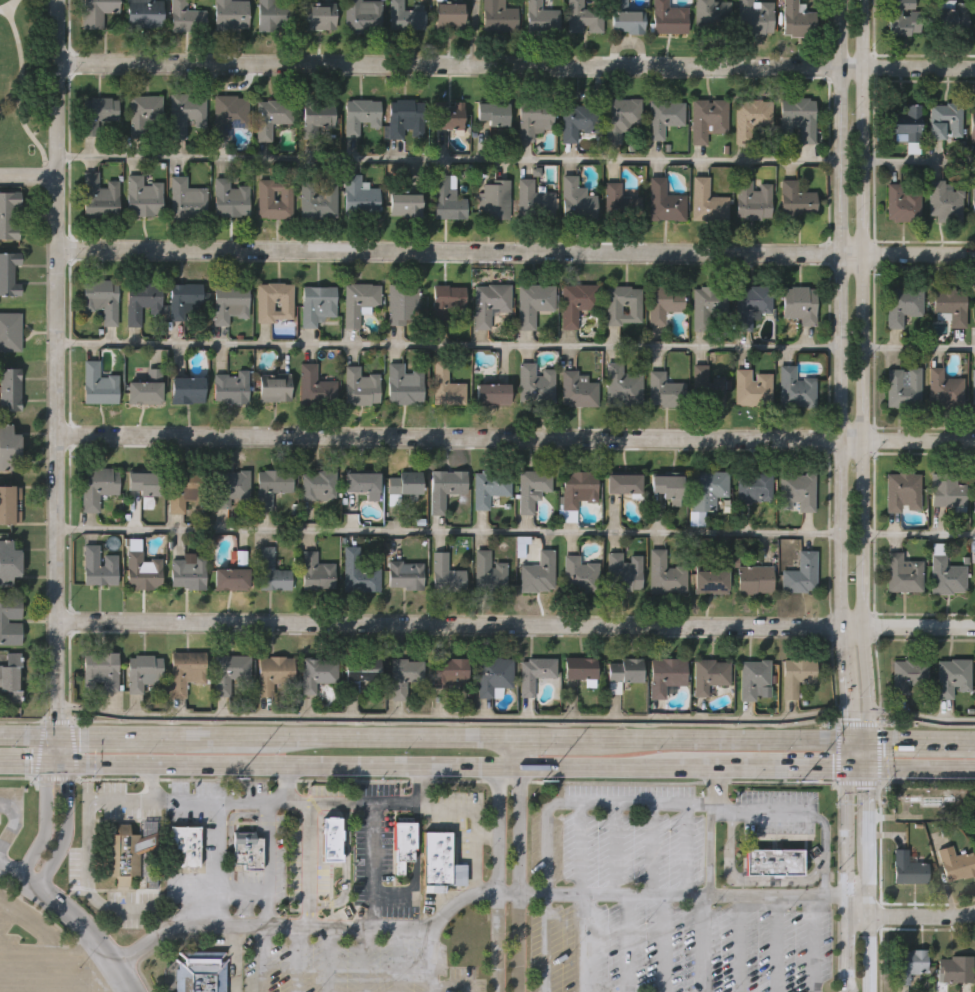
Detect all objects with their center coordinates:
road: (6, 4)
building: (96, 12)
building: (143, 13)
building: (230, 14)
building: (450, 14)
building: (274, 15)
building: (405, 15)
building: (362, 16)
building: (712, 16)
building: (950, 16)
building: (185, 17)
building: (318, 17)
building: (498, 17)
building: (584, 17)
building: (669, 17)
building: (754, 17)
building: (901, 17)
building: (626, 18)
building: (541, 19)
building: (797, 19)
road: (516, 64)
park: (24, 86)
road: (22, 92)
building: (98, 113)
building: (185, 113)
building: (229, 114)
building: (145, 115)
building: (449, 115)
building: (491, 116)
building: (271, 117)
building: (362, 117)
building: (665, 117)
building: (798, 117)
building: (406, 118)
building: (622, 118)
building: (317, 119)
building: (534, 119)
building: (708, 119)
building: (753, 119)
building: (578, 121)
building: (944, 121)
building: (904, 122)
building: (973, 126)
road: (449, 160)
road: (918, 162)
road: (28, 175)
building: (143, 197)
building: (360, 197)
building: (99, 198)
building: (231, 198)
building: (275, 198)
building: (319, 198)
building: (448, 198)
building: (796, 198)
building: (186, 199)
building: (496, 199)
building: (534, 200)
building: (576, 200)
building: (754, 200)
building: (664, 201)
building: (708, 202)
building: (944, 202)
building: (620, 203)
building: (902, 203)
building: (973, 203)
building: (405, 205)
building: (9, 214)
road: (516, 250)
building: (10, 272)
building: (101, 299)
building: (184, 299)
building: (140, 300)
building: (275, 302)
building: (360, 302)
building: (448, 302)
building: (664, 302)
building: (229, 303)
building: (490, 303)
building: (577, 303)
building: (533, 304)
building: (752, 304)
building: (799, 304)
building: (901, 304)
building: (317, 305)
building: (403, 305)
building: (623, 306)
building: (950, 306)
building: (708, 308)
building: (974, 315)
building: (11, 329)
road: (448, 346)
road: (918, 349)
road: (840, 353)
road: (860, 354)
road: (57, 368)
building: (98, 385)
building: (404, 385)
building: (536, 385)
building: (315, 386)
building: (447, 386)
building: (622, 386)
building: (230, 387)
building: (361, 387)
building: (11, 388)
building: (145, 388)
building: (274, 388)
building: (796, 388)
building: (902, 388)
building: (753, 389)
building: (973, 389)
building: (186, 390)
building: (578, 390)
building: (944, 390)
building: (665, 391)
building: (709, 392)
building: (492, 394)
road: (515, 436)
building: (9, 445)
building: (622, 483)
building: (142, 484)
building: (404, 484)
building: (318, 485)
building: (97, 486)
building: (272, 486)
building: (360, 487)
building: (490, 487)
building: (755, 487)
building: (231, 488)
building: (445, 488)
building: (667, 488)
building: (578, 489)
building: (708, 489)
building: (185, 490)
building: (532, 490)
building: (797, 490)
building: (945, 491)
building: (902, 493)
building: (974, 494)
building: (10, 504)
road: (448, 532)
road: (917, 534)
building: (10, 561)
building: (98, 567)
building: (142, 572)
building: (188, 572)
building: (271, 572)
building: (316, 573)
building: (359, 573)
building: (490, 573)
building: (625, 573)
building: (538, 574)
building: (802, 574)
building: (902, 574)
building: (974, 574)
building: (405, 575)
building: (446, 575)
building: (666, 575)
building: (580, 576)
building: (946, 578)
building: (230, 579)
building: (755, 580)
building: (710, 582)
building: (3, 621)
road: (515, 623)
building: (580, 669)
building: (101, 670)
building: (185, 671)
building: (451, 672)
building: (623, 672)
building: (231, 673)
building: (317, 673)
building: (535, 673)
building: (274, 674)
building: (145, 675)
building: (666, 675)
building: (711, 675)
building: (907, 675)
building: (12, 676)
building: (404, 676)
building: (495, 676)
building: (797, 676)
building: (754, 678)
building: (952, 678)
building: (366, 680)
road: (453, 719)
road: (921, 719)
road: (21, 720)
road: (56, 720)
road: (455, 722)
road: (849, 722)
road: (869, 724)
road: (857, 725)
road: (28, 736)
traffic signals: (57, 737)
road: (107, 737)
road: (333, 737)
road: (547, 738)
road: (717, 738)
traffic signals: (849, 738)
road: (859, 738)
traffic signals: (870, 739)
road: (917, 739)
road: (970, 739)
road: (38, 749)
road: (57, 749)
road: (73, 749)
road: (509, 751)
road: (849, 752)
road: (870, 752)
road: (878, 753)
road: (837, 754)
road: (28, 760)
traffic signals: (58, 761)
road: (283, 762)
road: (583, 764)
road: (753, 765)
traffic signals: (849, 766)
road: (859, 766)
traffic signals: (870, 766)
road: (922, 766)
road: (17, 776)
road: (55, 778)
road: (457, 780)
road: (284, 782)
road: (421, 783)
road: (858, 783)
road: (337, 803)
road: (869, 812)
road: (805, 814)
road: (8, 818)
road: (45, 820)
road: (66, 826)
road: (87, 826)
road: (710, 830)
building: (329, 841)
building: (403, 845)
building: (186, 846)
building: (248, 849)
building: (127, 852)
building: (438, 860)
building: (774, 861)
road: (218, 863)
road: (269, 864)
road: (309, 864)
building: (954, 864)
road: (373, 865)
road: (476, 865)
road: (416, 866)
building: (906, 868)
road: (498, 876)
road: (518, 876)
road: (845, 878)
road: (746, 880)
road: (867, 887)
road: (508, 893)
road: (614, 894)
road: (777, 896)
road: (856, 916)
road: (921, 918)
road: (156, 919)
road: (74, 920)
road: (306, 925)
parking lot: (41, 952)
road: (867, 954)
road: (259, 958)
building: (906, 964)
building: (956, 969)
building: (200, 971)

